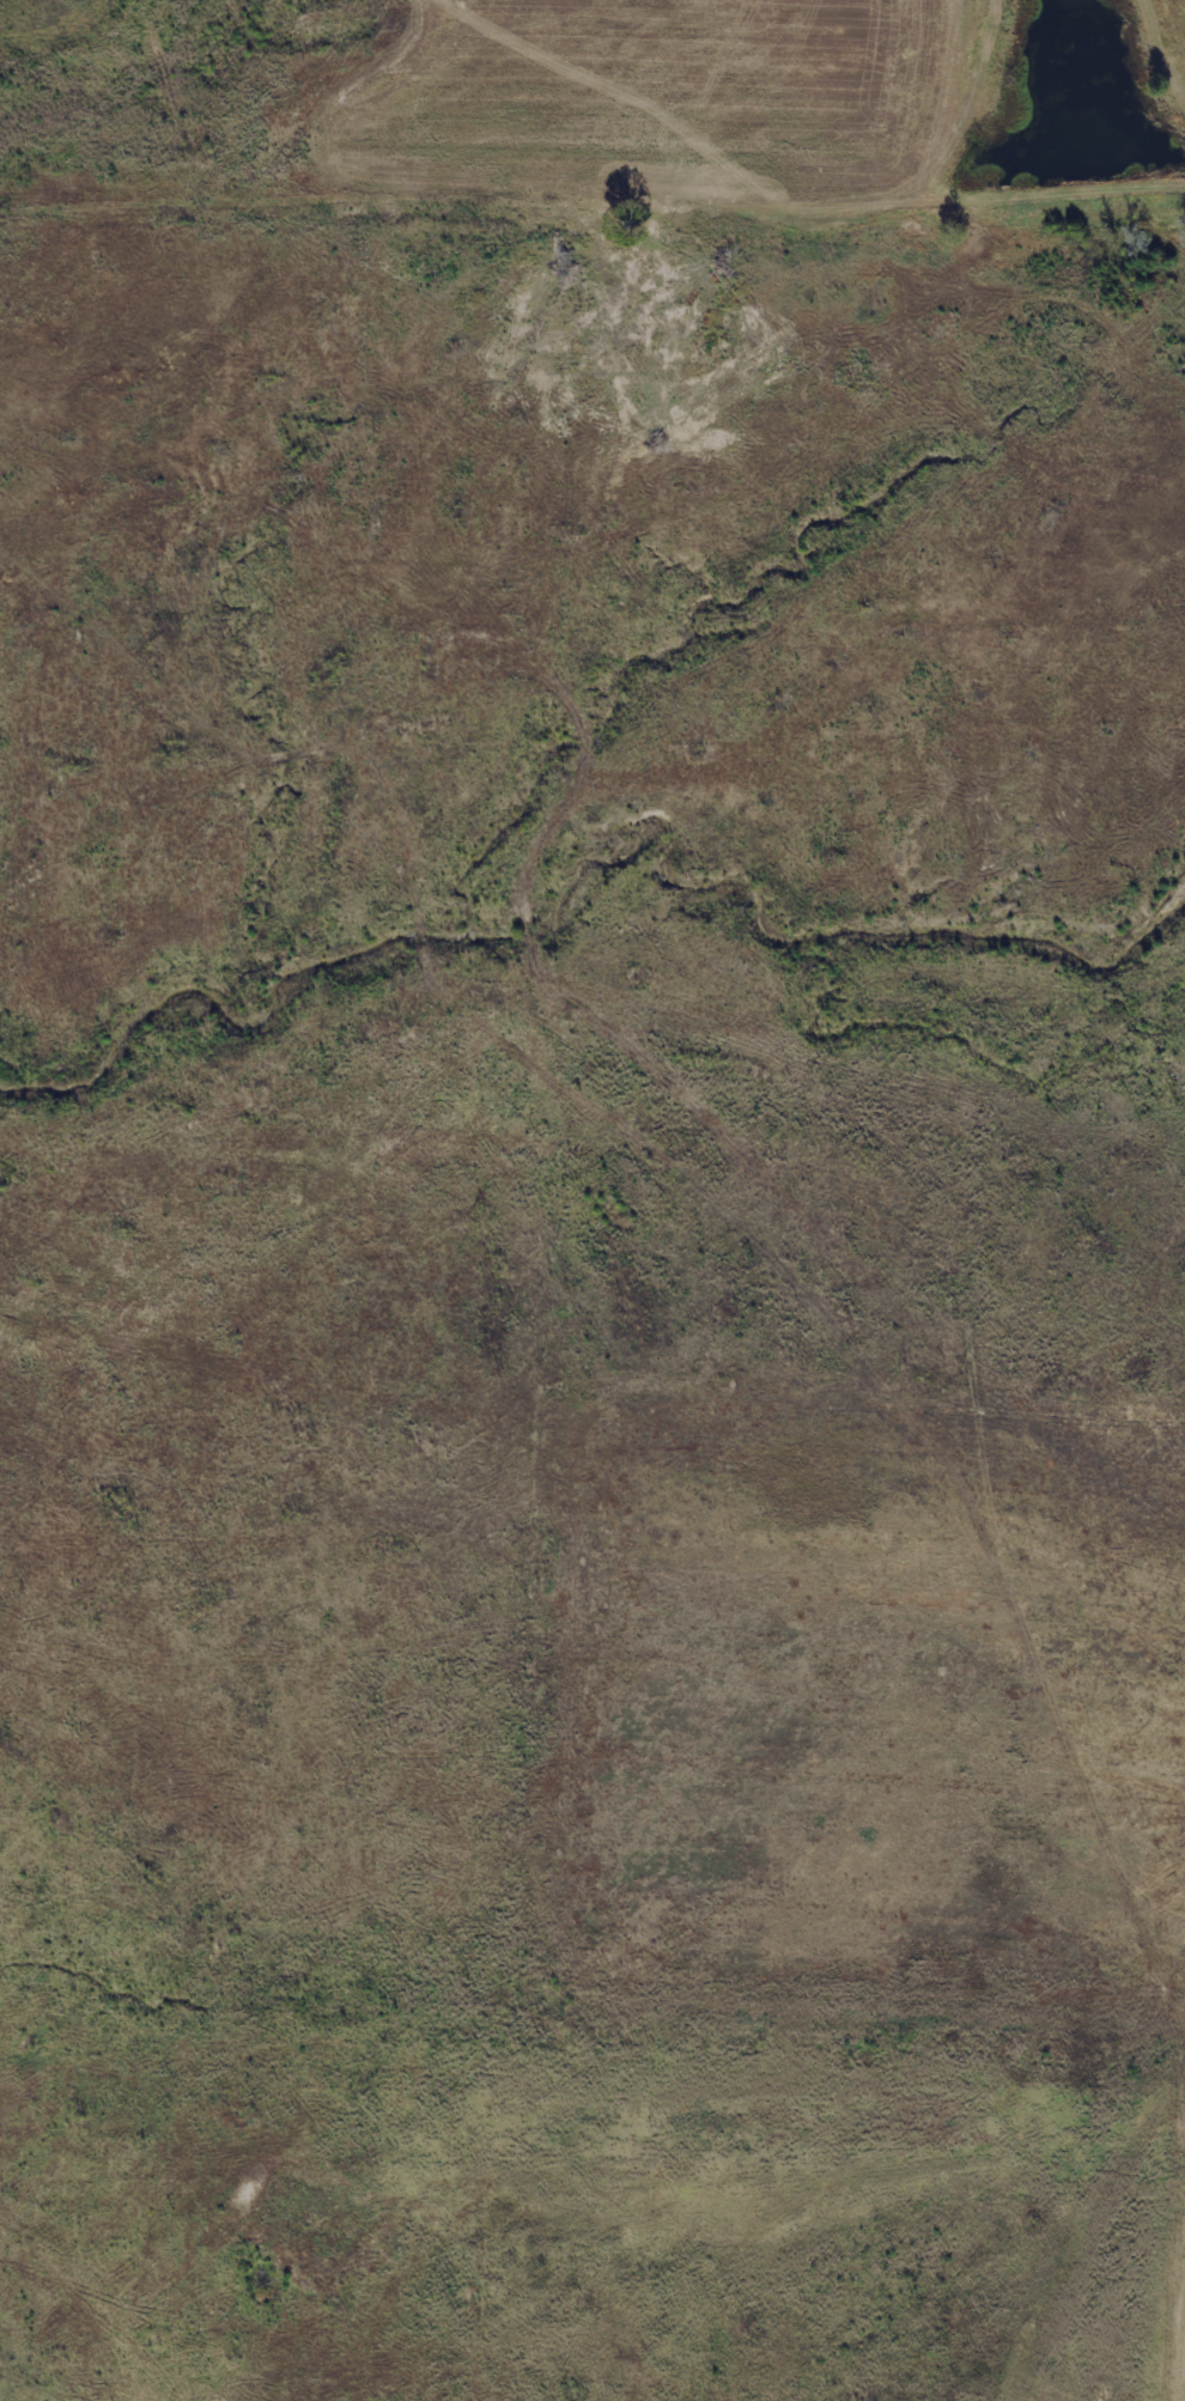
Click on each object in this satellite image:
road: (917, 2054)

